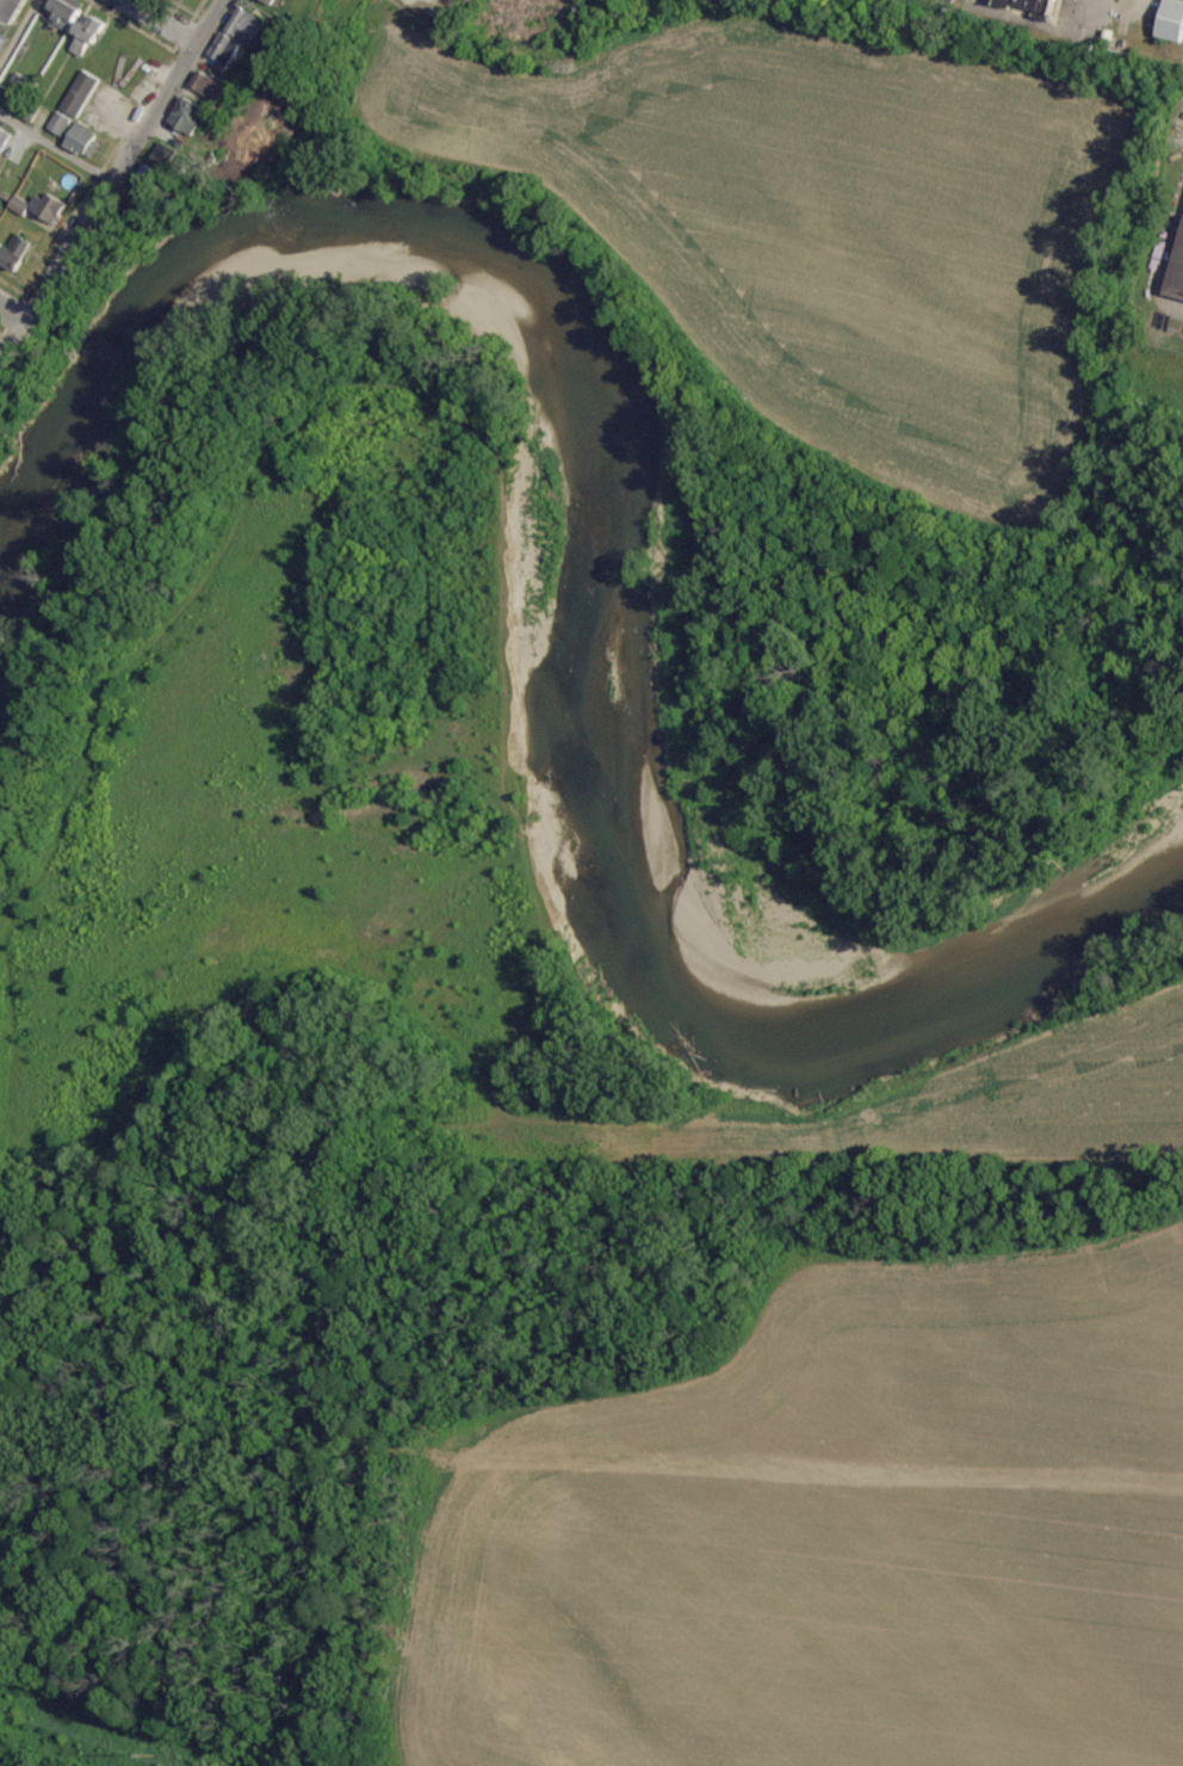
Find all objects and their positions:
building: (75, 2)
building: (1032, 7)
building: (12, 10)
building: (63, 16)
road: (167, 17)
building: (1172, 21)
building: (247, 27)
road: (20, 35)
building: (89, 35)
building: (2, 41)
building: (225, 49)
building: (19, 85)
building: (209, 86)
building: (80, 94)
building: (188, 117)
building: (60, 124)
building: (4, 141)
building: (85, 141)
road: (55, 143)
building: (155, 166)
road: (111, 178)
building: (50, 209)
building: (16, 253)
building: (1177, 272)
road: (14, 305)
river: (617, 527)

